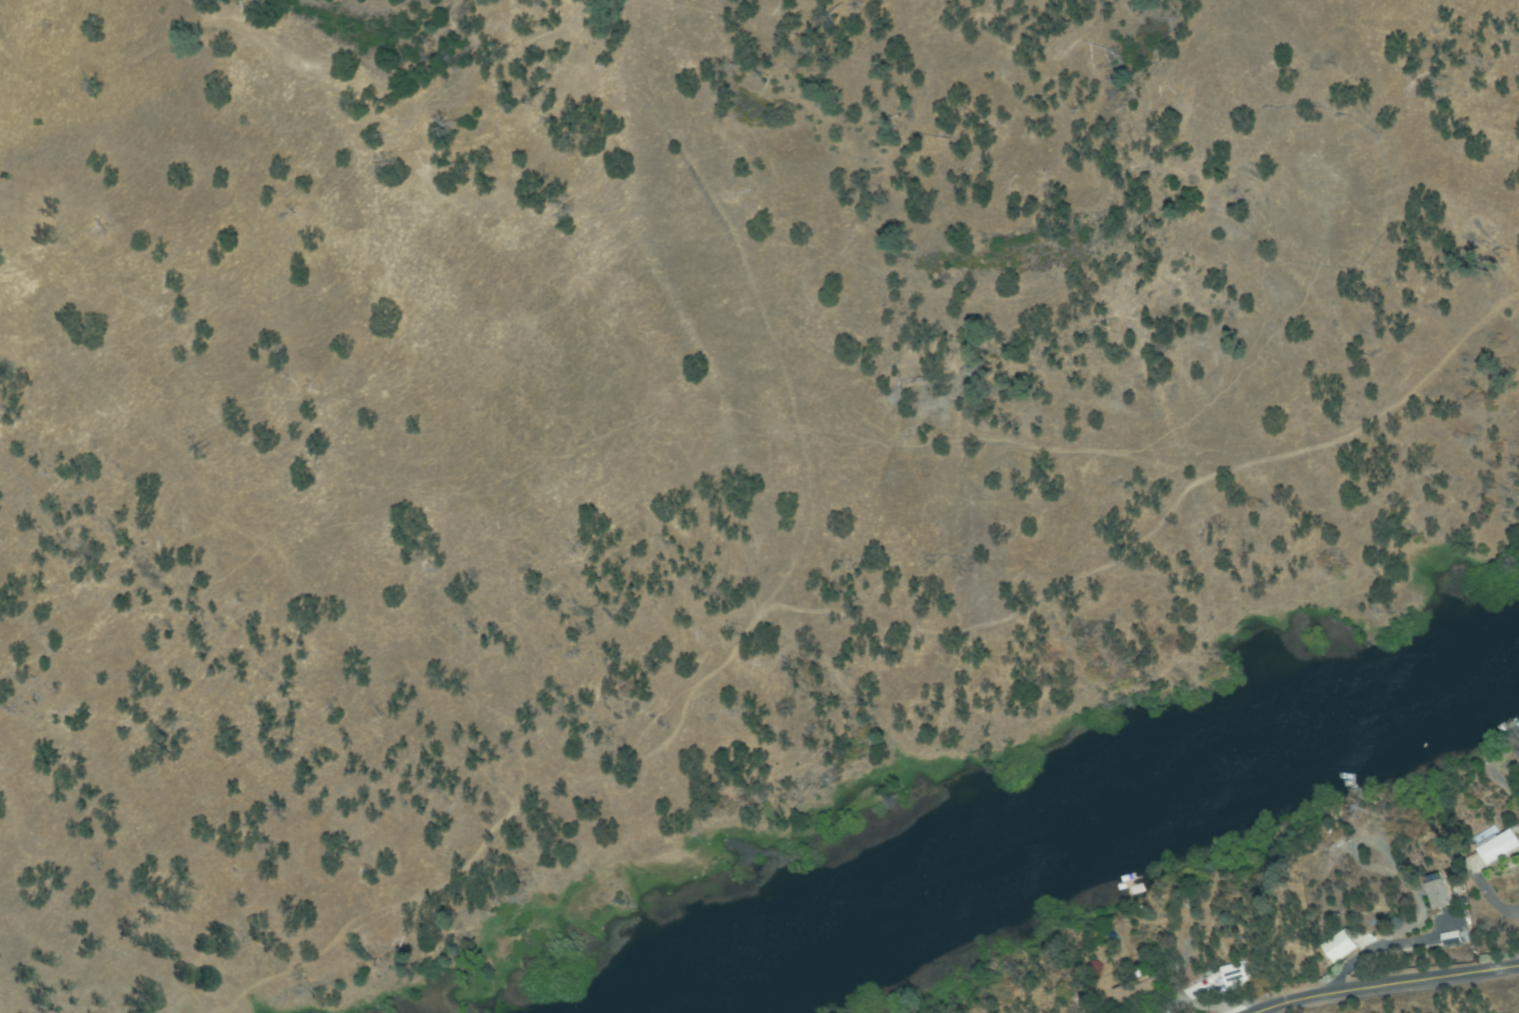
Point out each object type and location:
building: (1352, 782)
building: (1499, 847)
building: (1493, 859)
building: (1136, 890)
building: (1424, 893)
building: (1435, 903)
building: (1335, 959)
building: (1235, 976)
building: (1137, 994)
road: (1411, 995)

